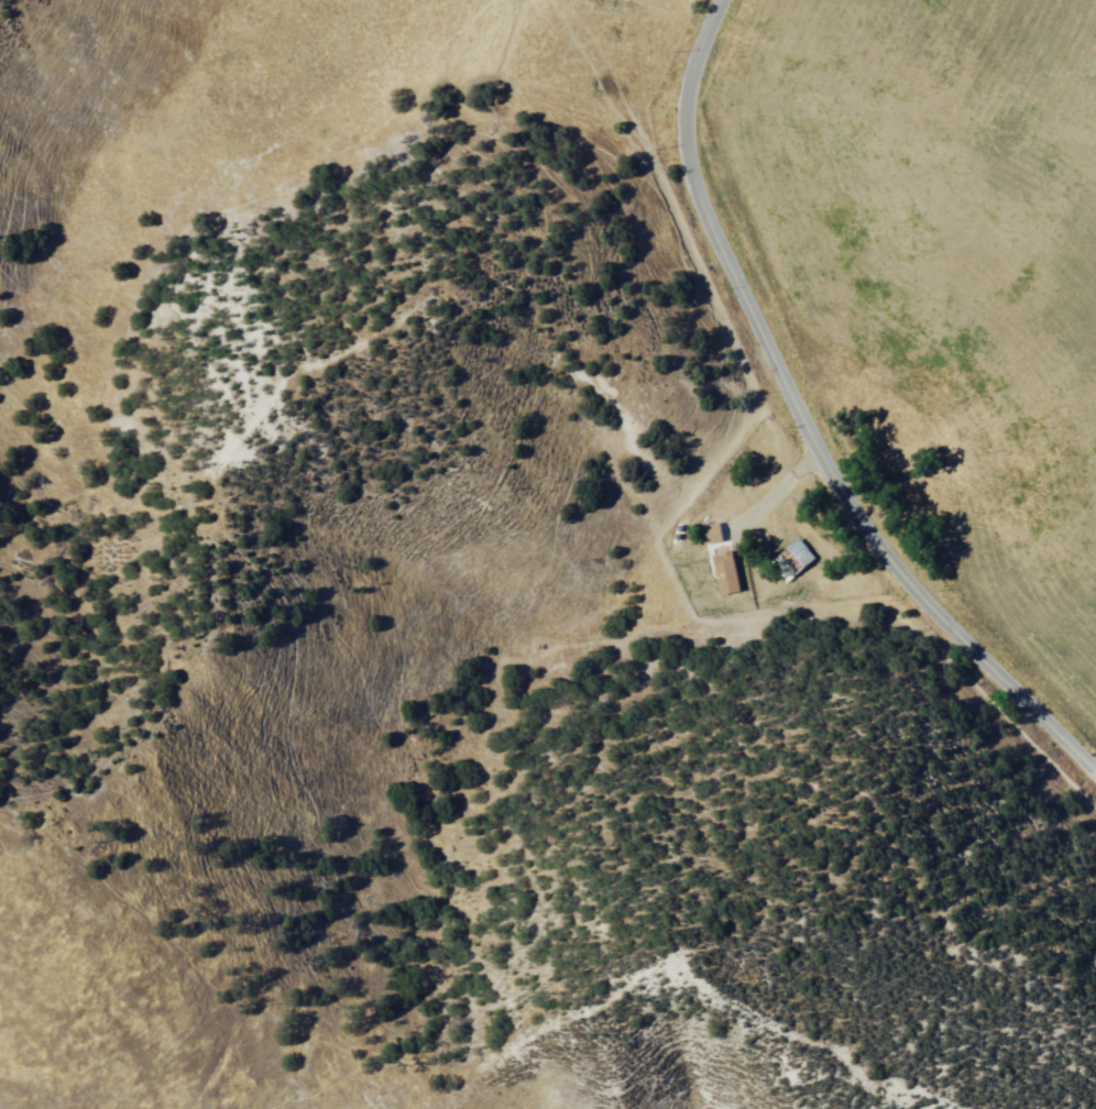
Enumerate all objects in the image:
crop: (939, 279)
road: (800, 426)
building: (708, 552)
building: (778, 557)

